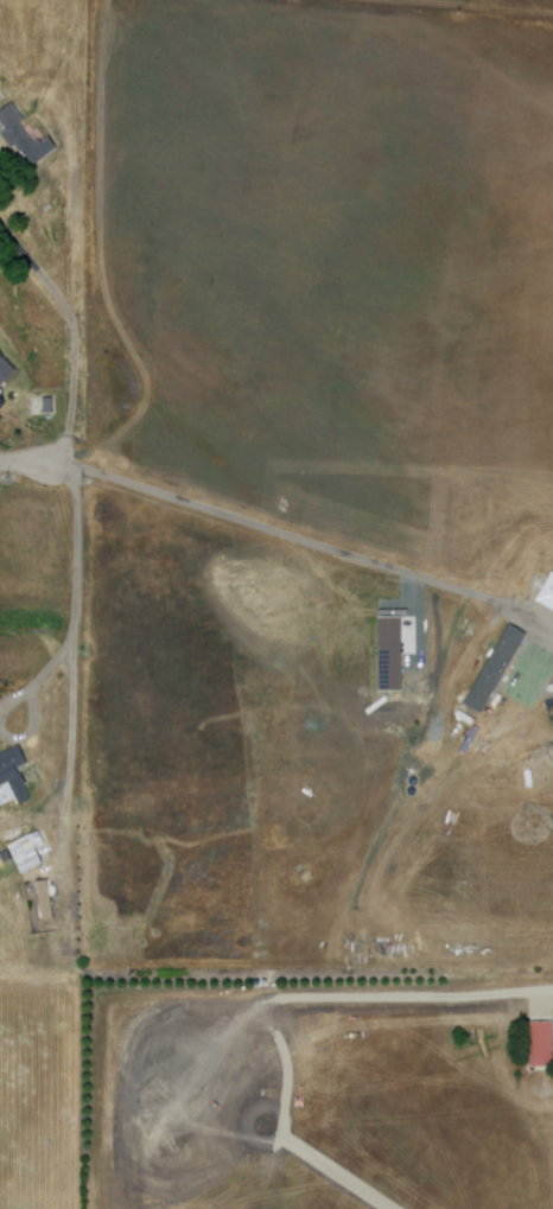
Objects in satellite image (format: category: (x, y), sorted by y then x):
building: (0, 87)
building: (25, 138)
crop: (335, 262)
road: (71, 333)
building: (5, 371)
building: (49, 403)
road: (246, 516)
building: (551, 594)
building: (495, 669)
park: (532, 677)
building: (552, 689)
crop: (297, 764)
building: (8, 768)
building: (30, 853)
building: (39, 901)
building: (46, 902)
building: (542, 1045)

